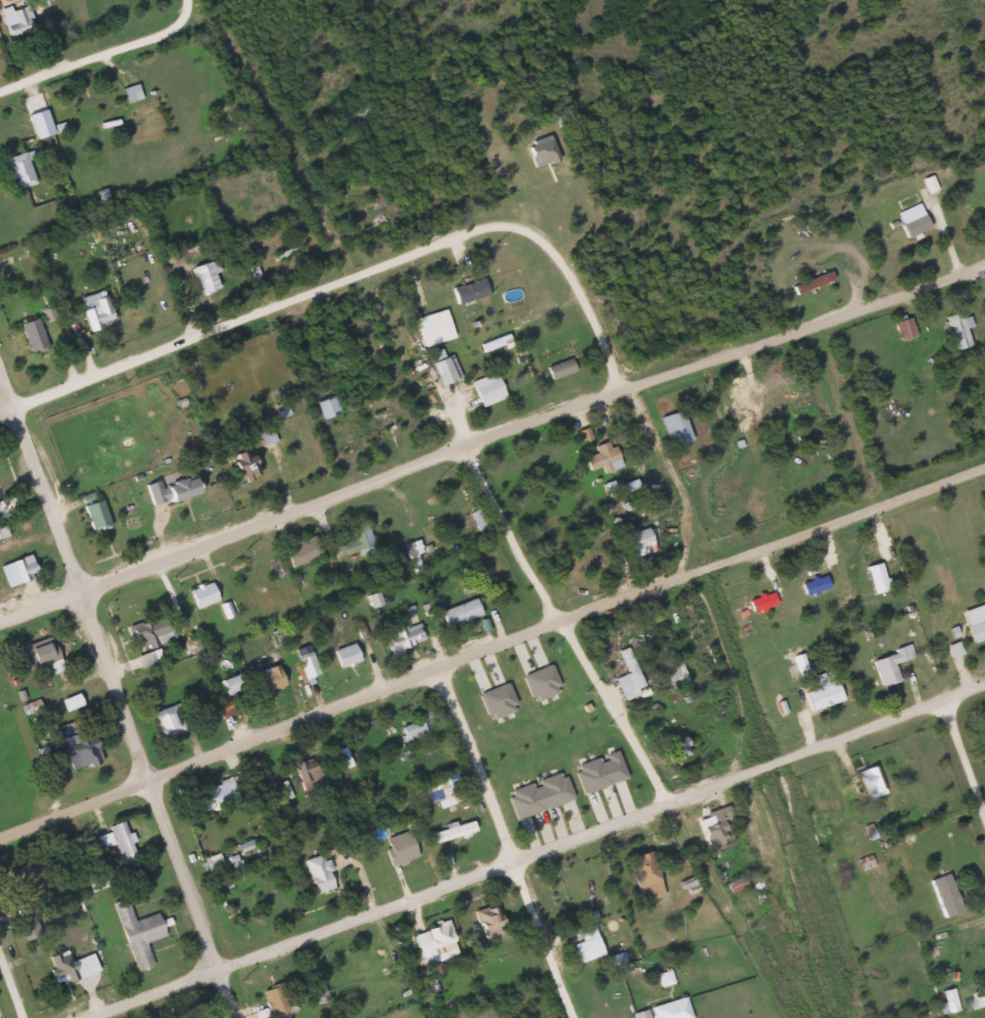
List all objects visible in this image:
building: (14, 15)
road: (58, 63)
building: (149, 77)
building: (128, 85)
building: (538, 151)
building: (18, 163)
building: (364, 212)
building: (909, 218)
road: (352, 274)
building: (808, 274)
building: (205, 275)
building: (467, 285)
building: (92, 303)
building: (899, 321)
building: (432, 322)
building: (955, 326)
building: (28, 328)
building: (491, 334)
building: (554, 358)
building: (439, 363)
building: (556, 369)
building: (484, 382)
building: (325, 402)
building: (672, 422)
building: (382, 424)
building: (263, 426)
road: (490, 434)
building: (341, 437)
building: (238, 453)
building: (600, 453)
building: (167, 477)
building: (92, 509)
building: (477, 514)
building: (336, 525)
road: (509, 532)
building: (634, 535)
building: (352, 538)
building: (297, 539)
building: (410, 550)
building: (298, 551)
building: (21, 564)
building: (199, 587)
building: (457, 604)
building: (973, 621)
building: (145, 624)
building: (398, 629)
building: (949, 637)
road: (489, 643)
building: (39, 645)
building: (343, 646)
building: (300, 653)
building: (800, 663)
building: (883, 665)
building: (263, 669)
building: (669, 669)
building: (626, 672)
building: (227, 674)
building: (538, 677)
building: (559, 678)
building: (819, 689)
building: (520, 691)
building: (493, 694)
road: (117, 698)
building: (65, 702)
building: (483, 707)
building: (165, 710)
road: (614, 710)
building: (412, 723)
building: (573, 727)
building: (670, 739)
building: (63, 740)
building: (342, 753)
building: (613, 758)
road: (473, 761)
road: (962, 761)
building: (307, 766)
building: (597, 769)
building: (577, 777)
building: (437, 779)
building: (872, 781)
building: (215, 784)
building: (536, 790)
building: (273, 799)
road: (346, 806)
building: (712, 817)
building: (450, 823)
building: (117, 837)
building: (397, 841)
building: (226, 851)
road: (527, 854)
building: (862, 854)
building: (315, 867)
building: (642, 872)
building: (24, 875)
building: (685, 876)
building: (734, 877)
building: (94, 880)
building: (942, 888)
building: (569, 890)
building: (481, 906)
building: (133, 924)
building: (431, 933)
building: (584, 938)
road: (542, 939)
building: (614, 951)
road: (407, 958)
building: (60, 963)
building: (662, 971)
road: (10, 985)
building: (977, 987)
building: (316, 993)
building: (271, 997)
building: (977, 998)
building: (669, 1004)
building: (180, 1013)

